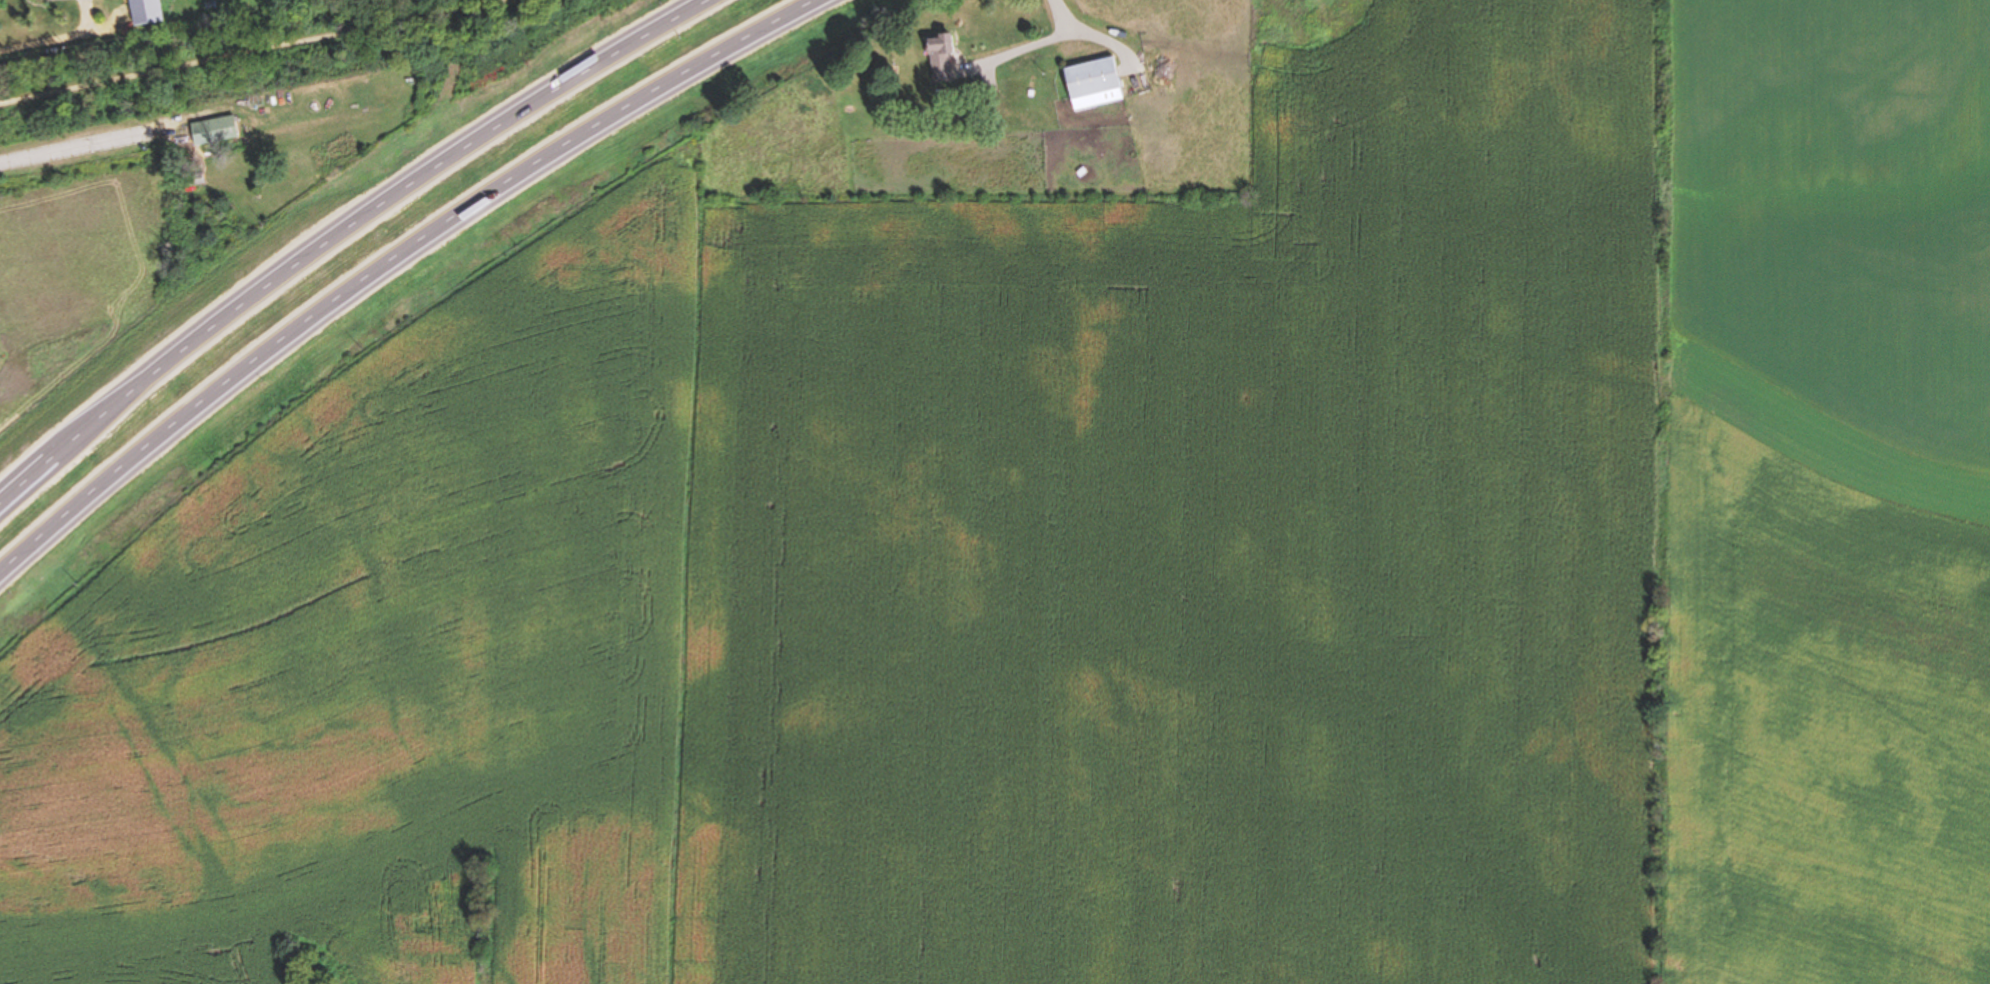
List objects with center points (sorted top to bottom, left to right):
building: (29, 0)
road: (1095, 30)
road: (68, 38)
road: (1028, 42)
road: (262, 51)
building: (938, 58)
building: (1092, 84)
building: (212, 130)
road: (80, 148)
building: (193, 179)
road: (345, 232)
road: (396, 263)
road: (17, 476)

